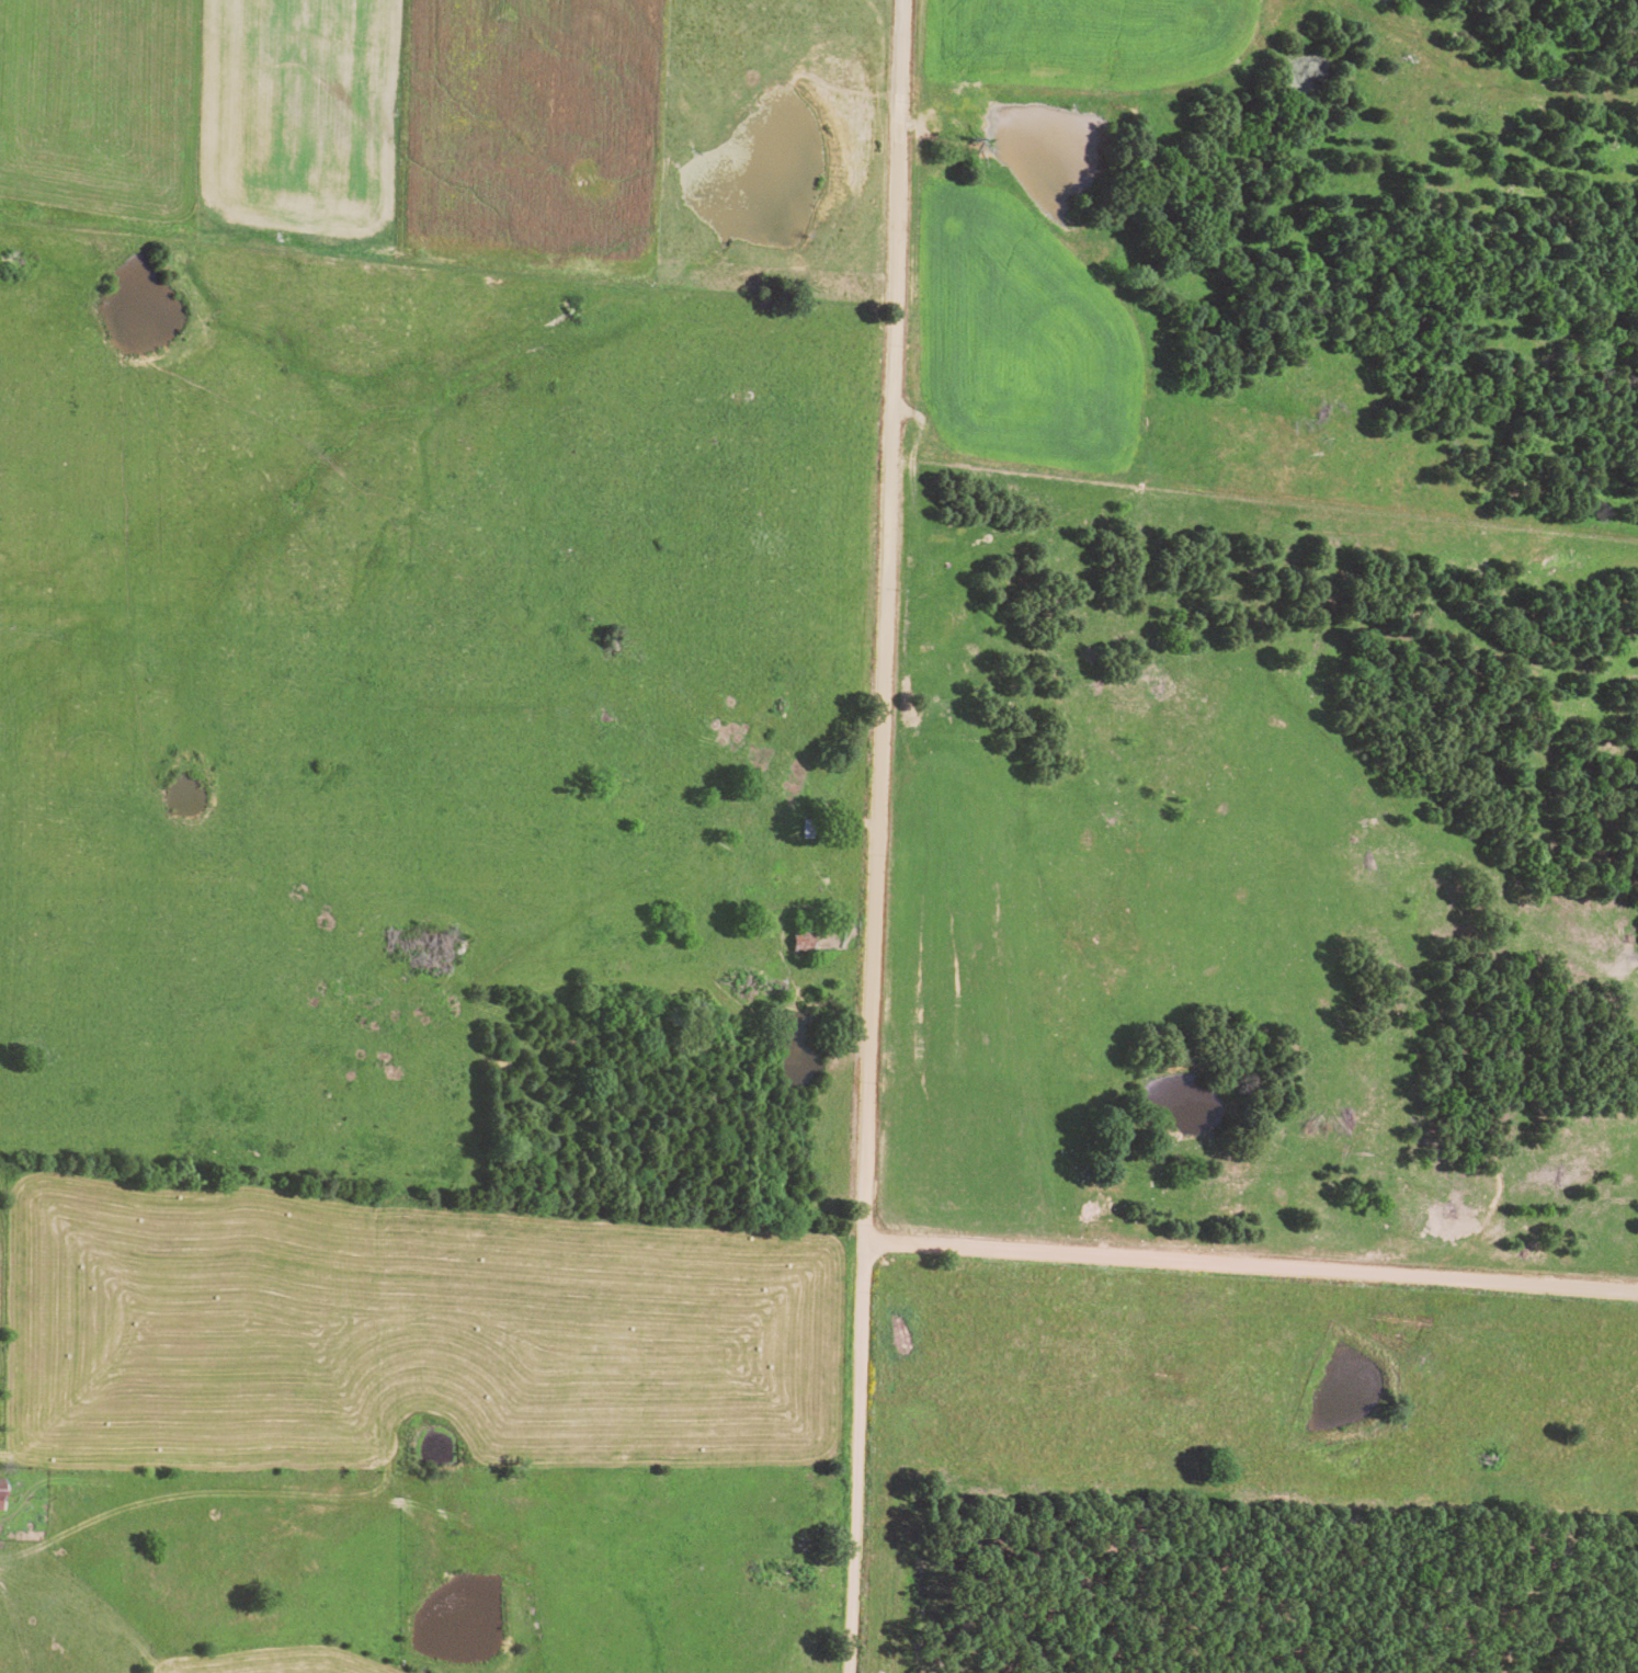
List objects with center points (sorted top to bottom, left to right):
road: (878, 836)
road: (1252, 1265)
building: (1, 1494)

